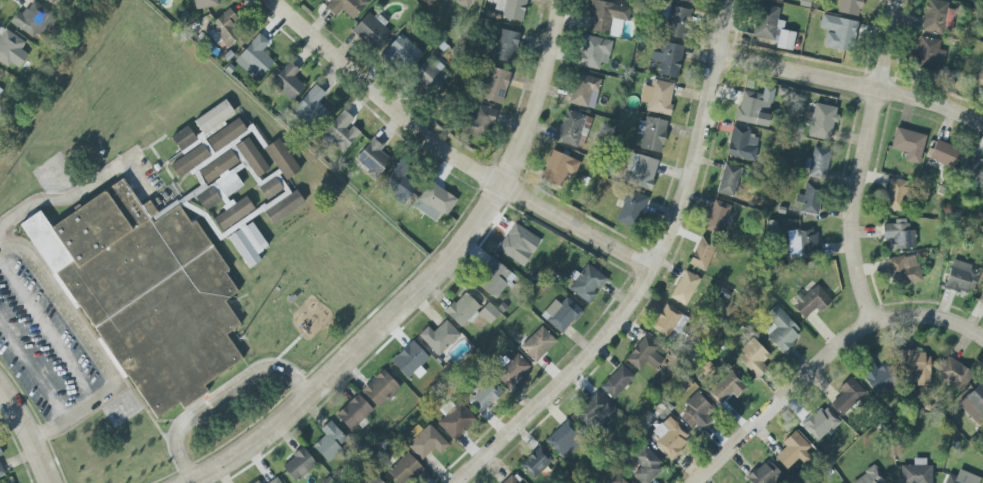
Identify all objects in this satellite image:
building: (52, 0)
building: (781, 0)
building: (686, 1)
building: (464, 3)
building: (204, 4)
building: (346, 7)
building: (849, 7)
building: (511, 9)
building: (934, 17)
building: (607, 18)
building: (34, 20)
building: (677, 22)
building: (766, 22)
building: (226, 28)
building: (371, 30)
building: (837, 32)
building: (785, 40)
building: (505, 45)
building: (11, 49)
building: (401, 52)
building: (594, 52)
building: (929, 53)
building: (257, 54)
building: (668, 59)
building: (0, 74)
building: (430, 76)
building: (980, 77)
building: (287, 82)
road: (851, 83)
building: (494, 85)
building: (0, 89)
building: (583, 89)
building: (657, 97)
building: (754, 107)
building: (311, 109)
building: (214, 117)
building: (479, 121)
building: (822, 122)
building: (573, 128)
building: (341, 132)
building: (652, 134)
building: (225, 135)
building: (183, 138)
building: (739, 142)
building: (908, 144)
road: (448, 153)
building: (944, 154)
building: (251, 157)
building: (372, 158)
building: (281, 159)
building: (189, 161)
road: (861, 161)
building: (818, 163)
building: (558, 168)
building: (973, 170)
building: (641, 172)
building: (728, 180)
building: (398, 182)
building: (270, 185)
building: (222, 190)
building: (896, 195)
road: (67, 199)
building: (810, 199)
building: (434, 202)
building: (631, 209)
building: (717, 217)
building: (240, 229)
building: (899, 235)
building: (802, 243)
building: (518, 244)
building: (702, 253)
building: (903, 270)
road: (648, 273)
building: (961, 277)
road: (428, 278)
building: (494, 279)
building: (587, 283)
building: (685, 288)
building: (142, 294)
building: (981, 299)
building: (811, 301)
road: (63, 307)
building: (462, 310)
building: (488, 313)
building: (561, 314)
road: (929, 316)
building: (667, 321)
building: (780, 328)
road: (47, 332)
building: (439, 337)
building: (537, 344)
building: (644, 354)
building: (753, 358)
building: (410, 361)
building: (915, 367)
building: (511, 370)
road: (32, 371)
building: (954, 374)
building: (878, 378)
building: (616, 382)
building: (726, 388)
building: (380, 389)
building: (485, 396)
building: (846, 396)
road: (221, 399)
road: (780, 399)
building: (975, 400)
building: (697, 411)
building: (353, 412)
building: (593, 412)
road: (74, 413)
building: (455, 421)
building: (820, 423)
road: (27, 435)
building: (564, 440)
building: (329, 441)
building: (672, 441)
building: (427, 442)
building: (793, 450)
building: (0, 454)
building: (536, 462)
building: (298, 464)
building: (645, 464)
building: (404, 469)
building: (1, 472)
building: (916, 472)
building: (764, 473)
building: (869, 477)
building: (961, 478)
building: (375, 480)
building: (510, 480)
building: (618, 480)
building: (275, 481)
building: (256, 482)

